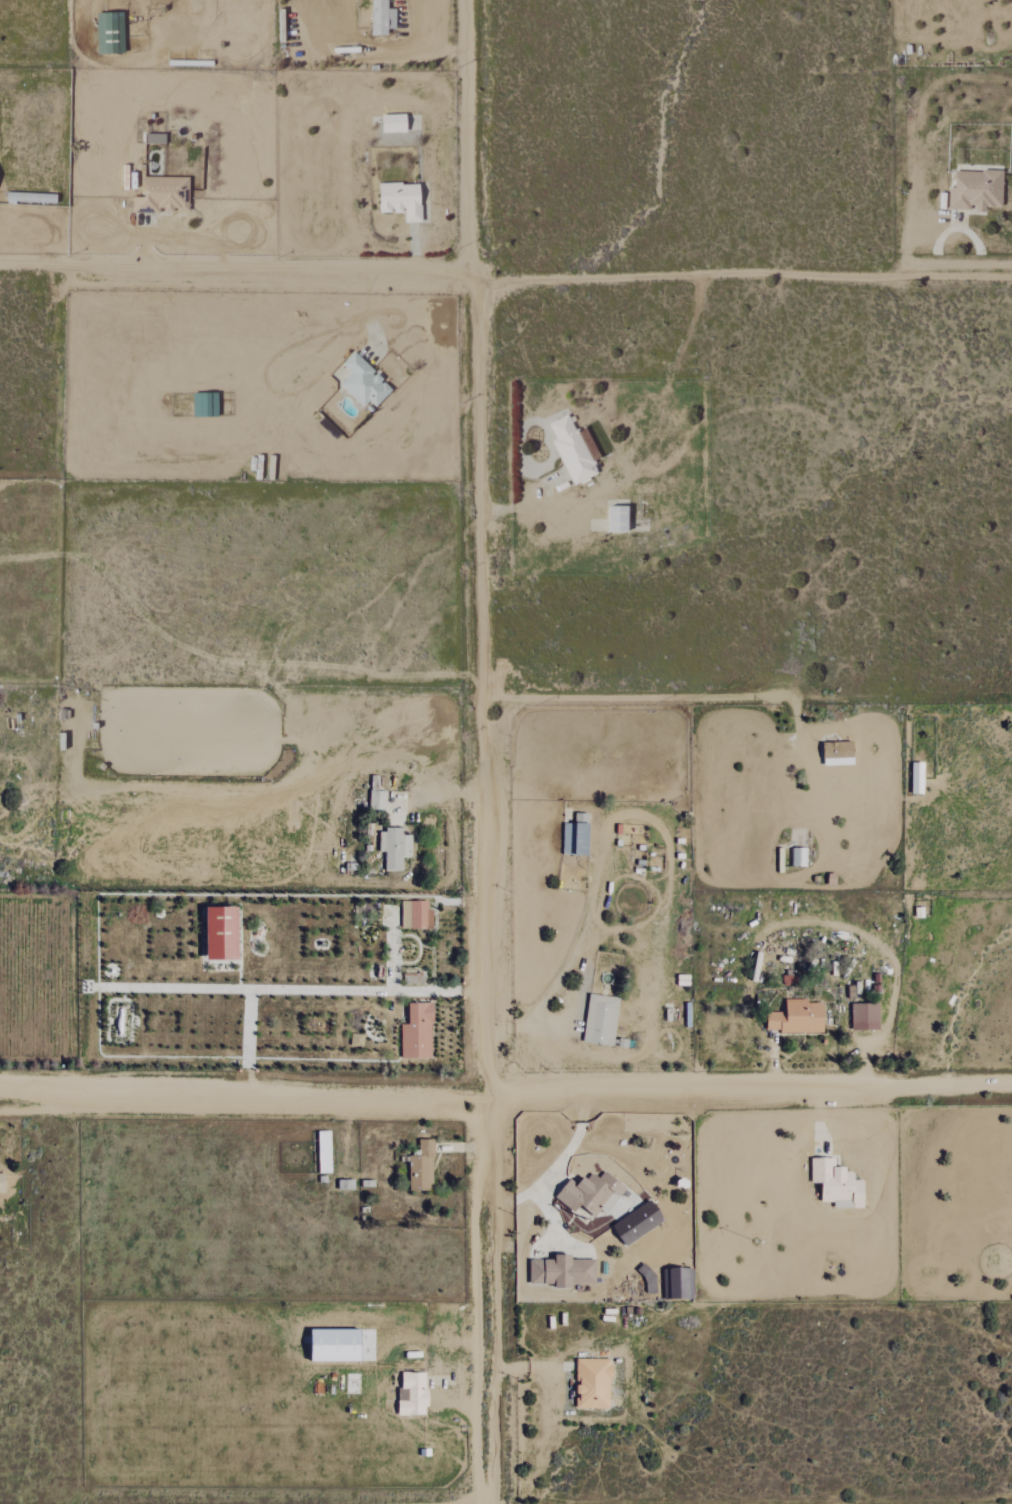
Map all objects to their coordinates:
building: (380, 18)
building: (111, 33)
road: (415, 48)
building: (394, 124)
building: (977, 191)
building: (163, 196)
building: (402, 201)
road: (907, 227)
road: (145, 245)
road: (505, 281)
road: (370, 318)
building: (364, 382)
building: (205, 406)
building: (573, 450)
road: (550, 506)
building: (619, 520)
road: (683, 696)
road: (796, 732)
road: (483, 751)
building: (839, 753)
building: (918, 778)
road: (449, 789)
building: (378, 800)
building: (577, 835)
road: (598, 835)
building: (395, 848)
building: (799, 857)
building: (416, 915)
building: (223, 933)
road: (392, 953)
building: (789, 979)
road: (285, 988)
building: (865, 1017)
building: (601, 1020)
building: (418, 1033)
road: (247, 1039)
road: (872, 1041)
road: (773, 1059)
road: (749, 1087)
road: (244, 1091)
road: (462, 1148)
building: (325, 1152)
road: (555, 1165)
building: (422, 1168)
building: (2, 1182)
building: (838, 1184)
building: (591, 1194)
building: (639, 1223)
building: (563, 1272)
building: (682, 1284)
building: (337, 1345)
road: (535, 1366)
building: (594, 1384)
building: (413, 1394)
road: (475, 1436)

